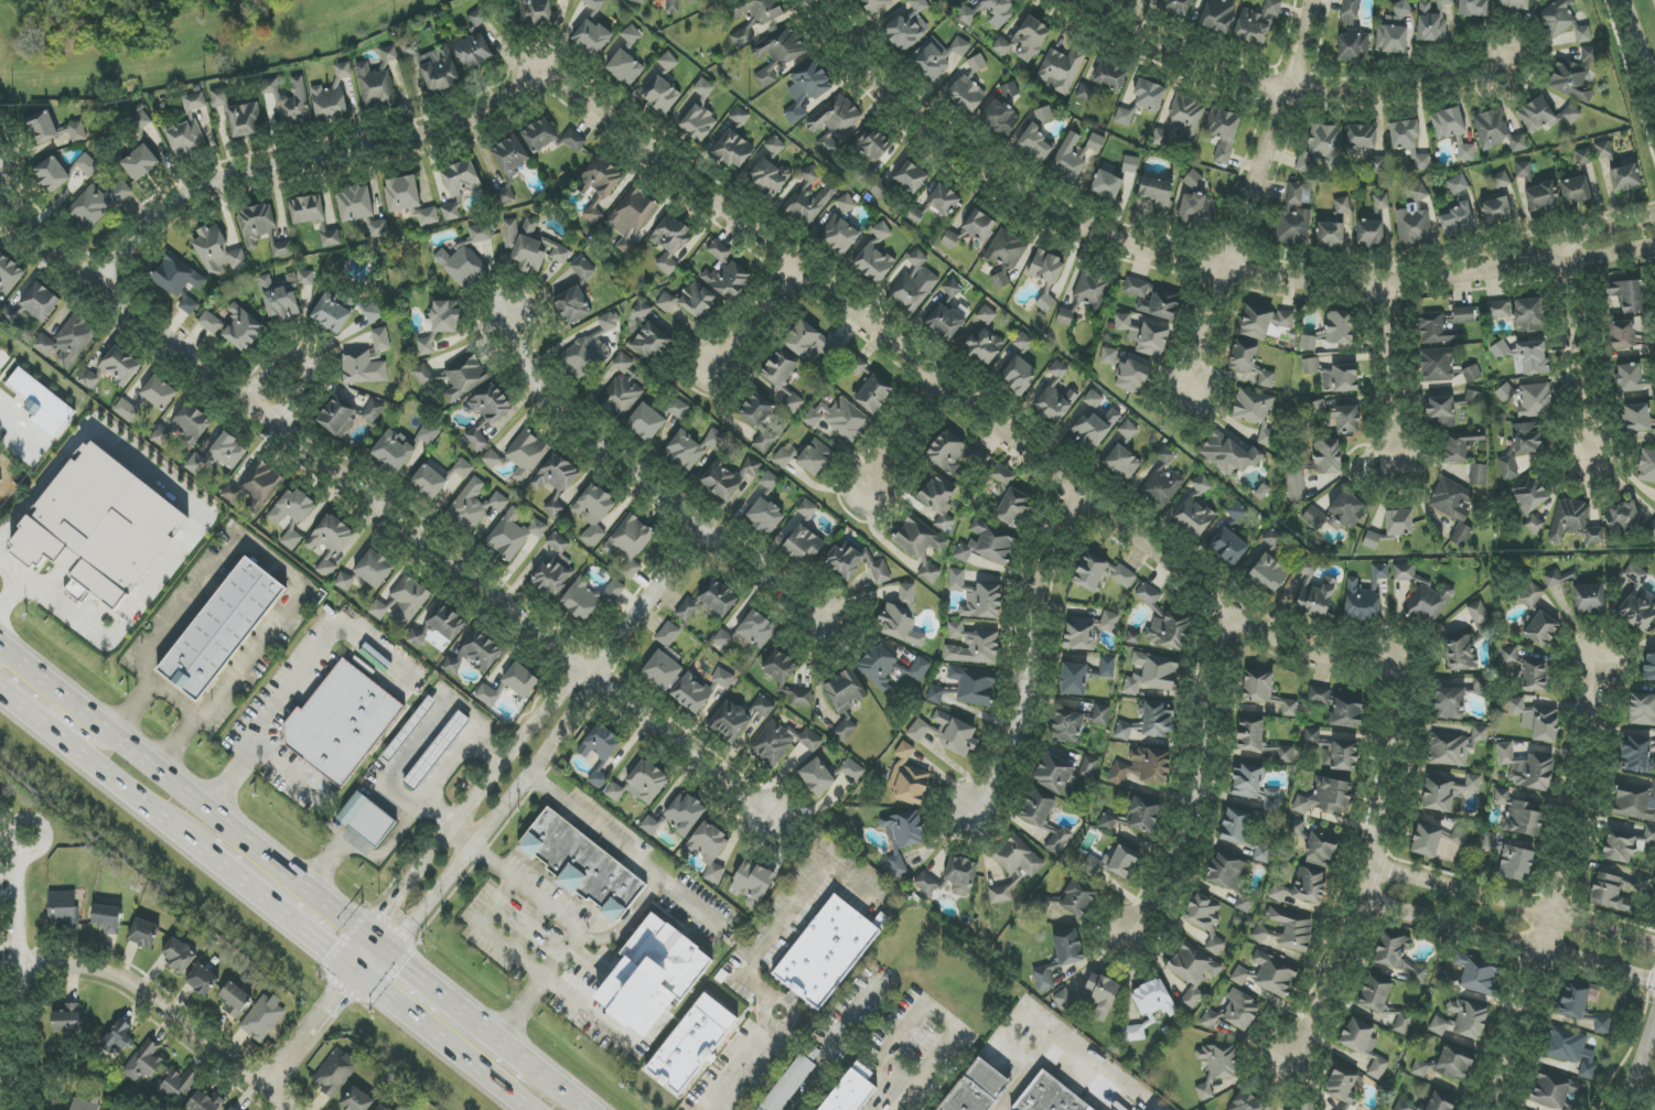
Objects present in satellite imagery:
building: (691, 0)
building: (637, 1)
building: (1444, 2)
building: (1515, 3)
building: (593, 4)
building: (875, 4)
building: (673, 6)
building: (1176, 7)
building: (1473, 8)
building: (761, 9)
building: (536, 12)
building: (1218, 15)
building: (967, 17)
building: (476, 20)
building: (1562, 21)
building: (1257, 23)
building: (1430, 24)
building: (907, 26)
building: (1395, 31)
building: (1353, 33)
building: (632, 35)
building: (742, 35)
road: (1642, 35)
building: (592, 36)
park: (174, 41)
building: (1024, 41)
building: (473, 50)
building: (776, 53)
building: (938, 57)
building: (668, 62)
building: (434, 66)
building: (625, 67)
building: (1060, 69)
building: (1573, 75)
building: (377, 80)
building: (1103, 82)
building: (969, 86)
road: (1280, 87)
building: (703, 88)
building: (806, 89)
building: (1010, 90)
building: (332, 95)
building: (662, 95)
building: (1149, 95)
building: (194, 101)
building: (289, 101)
building: (238, 114)
building: (1545, 115)
building: (739, 116)
building: (1124, 117)
building: (1000, 119)
building: (1182, 120)
building: (140, 121)
building: (832, 122)
building: (1450, 122)
building: (698, 123)
building: (42, 127)
building: (1491, 128)
building: (77, 132)
building: (1223, 132)
building: (539, 134)
road: (1271, 134)
building: (1362, 137)
building: (185, 138)
building: (1036, 138)
building: (573, 140)
building: (1409, 142)
building: (872, 143)
building: (1518, 143)
building: (775, 146)
building: (1322, 149)
building: (734, 150)
building: (1604, 150)
building: (1465, 152)
building: (509, 154)
building: (1074, 154)
building: (1583, 157)
building: (140, 163)
building: (1376, 163)
building: (87, 164)
building: (1130, 164)
building: (1523, 170)
building: (52, 174)
building: (1625, 175)
building: (911, 176)
building: (769, 177)
building: (1193, 180)
building: (1458, 184)
building: (1107, 185)
building: (459, 186)
building: (880, 188)
building: (1576, 191)
building: (1419, 192)
building: (402, 193)
building: (1157, 193)
building: (1541, 196)
building: (809, 198)
building: (943, 200)
building: (1501, 201)
building: (98, 203)
building: (355, 204)
building: (1380, 204)
building: (1342, 206)
building: (1195, 208)
building: (307, 209)
building: (428, 216)
building: (914, 216)
building: (1293, 216)
building: (1459, 217)
building: (631, 218)
building: (979, 225)
building: (1414, 226)
building: (840, 227)
building: (262, 229)
building: (378, 229)
building: (1369, 231)
building: (1331, 235)
building: (329, 236)
building: (950, 239)
building: (670, 243)
building: (530, 247)
building: (1007, 249)
building: (217, 252)
building: (875, 256)
building: (465, 258)
building: (917, 259)
road: (1183, 262)
building: (582, 268)
building: (1046, 268)
building: (9, 273)
building: (726, 273)
building: (176, 277)
building: (307, 278)
building: (1000, 280)
building: (953, 288)
building: (914, 289)
building: (1092, 291)
building: (1629, 295)
building: (1152, 299)
building: (279, 300)
building: (689, 300)
building: (40, 302)
building: (1045, 303)
building: (189, 305)
building: (572, 305)
building: (331, 313)
building: (373, 313)
building: (1519, 313)
building: (1463, 315)
building: (445, 316)
building: (1065, 317)
building: (1264, 321)
building: (209, 322)
building: (945, 322)
road: (751, 323)
building: (1340, 327)
building: (243, 328)
road: (1206, 330)
building: (1438, 330)
building: (647, 335)
building: (1144, 335)
building: (1631, 337)
building: (984, 338)
building: (67, 342)
building: (1022, 342)
building: (814, 343)
building: (1308, 343)
building: (426, 346)
building: (590, 351)
building: (1525, 356)
building: (367, 360)
building: (1250, 363)
building: (857, 365)
building: (1311, 365)
building: (1437, 365)
building: (120, 366)
building: (780, 368)
road: (1568, 368)
building: (1127, 371)
building: (425, 375)
building: (1018, 375)
building: (464, 377)
building: (1630, 377)
building: (1341, 378)
building: (88, 379)
road: (920, 381)
road: (1377, 384)
building: (622, 387)
building: (159, 392)
building: (873, 394)
road: (283, 395)
building: (1056, 396)
building: (1473, 398)
building: (1529, 399)
building: (792, 402)
building: (42, 403)
building: (491, 403)
building: (1253, 407)
building: (677, 408)
building: (125, 409)
building: (756, 410)
building: (1440, 411)
building: (347, 416)
building: (1336, 417)
building: (1637, 418)
building: (813, 419)
building: (847, 420)
building: (646, 422)
building: (1094, 422)
building: (191, 424)
building: (1128, 430)
building: (428, 433)
building: (161, 437)
building: (1267, 437)
building: (476, 440)
road: (899, 440)
building: (764, 441)
building: (1460, 445)
building: (691, 448)
building: (1520, 448)
building: (394, 451)
building: (954, 453)
building: (526, 454)
building: (1229, 454)
building: (218, 455)
building: (1165, 455)
building: (1326, 456)
building: (783, 457)
building: (815, 457)
building: (491, 460)
building: (1121, 463)
building: (1647, 465)
building: (462, 468)
building: (1479, 474)
building: (1001, 475)
building: (728, 477)
building: (0, 481)
building: (556, 481)
building: (769, 481)
building: (429, 482)
building: (0, 483)
building: (255, 484)
building: (1296, 485)
road: (643, 488)
building: (1162, 488)
building: (1529, 494)
road: (376, 499)
building: (939, 500)
building: (475, 504)
road: (198, 506)
building: (1453, 507)
building: (1014, 508)
building: (807, 509)
building: (1195, 509)
building: (1345, 511)
building: (593, 513)
building: (1236, 513)
building: (292, 515)
building: (765, 516)
building: (1313, 517)
building: (1622, 517)
building: (1399, 521)
building: (1575, 522)
building: (1534, 525)
building: (103, 530)
building: (1654, 530)
building: (513, 534)
building: (330, 535)
building: (918, 538)
building: (1272, 538)
building: (1372, 540)
building: (630, 543)
building: (803, 543)
building: (987, 543)
building: (1228, 547)
road: (268, 554)
building: (856, 564)
building: (326, 568)
building: (555, 568)
road: (13, 569)
building: (374, 569)
building: (1090, 572)
building: (1404, 572)
building: (929, 573)
building: (1268, 574)
building: (1124, 576)
building: (1560, 579)
building: (956, 580)
building: (345, 581)
building: (1315, 593)
building: (1365, 595)
building: (1532, 595)
road: (13, 596)
building: (589, 597)
building: (718, 597)
building: (1589, 599)
building: (402, 602)
building: (984, 602)
building: (1428, 603)
road: (646, 606)
building: (688, 610)
building: (901, 617)
building: (447, 622)
building: (1109, 622)
building: (1164, 623)
building: (1540, 627)
building: (222, 629)
building: (756, 629)
building: (668, 634)
building: (1081, 634)
building: (417, 635)
building: (1133, 637)
building: (722, 639)
building: (1465, 642)
building: (972, 646)
building: (475, 654)
road: (1027, 658)
building: (1107, 666)
building: (781, 667)
building: (879, 667)
building: (1648, 667)
building: (920, 669)
building: (662, 670)
building: (1152, 673)
building: (1535, 677)
building: (723, 678)
building: (1074, 679)
building: (520, 680)
building: (974, 685)
building: (1480, 686)
building: (1265, 691)
building: (691, 692)
building: (935, 694)
building: (487, 696)
building: (800, 698)
road: (176, 699)
road: (14, 701)
building: (845, 701)
building: (1450, 703)
building: (764, 705)
building: (1340, 705)
building: (1642, 709)
building: (1100, 714)
road: (266, 719)
building: (1535, 719)
building: (1157, 720)
building: (730, 721)
building: (340, 724)
building: (1067, 725)
building: (917, 730)
road: (72, 731)
building: (1125, 731)
building: (955, 734)
building: (810, 741)
building: (1259, 741)
building: (600, 743)
building: (773, 743)
building: (1454, 746)
road: (410, 751)
building: (437, 751)
building: (1333, 751)
building: (1636, 754)
building: (1088, 767)
building: (1143, 767)
building: (1526, 768)
building: (851, 770)
building: (1055, 772)
building: (817, 777)
building: (909, 779)
building: (598, 780)
road: (117, 783)
building: (641, 784)
road: (1197, 786)
building: (1255, 786)
building: (1448, 790)
road: (183, 791)
building: (0, 794)
building: (1324, 797)
road: (474, 800)
building: (1634, 800)
road: (423, 805)
building: (1038, 807)
building: (684, 813)
building: (1143, 813)
building: (1519, 815)
road: (494, 816)
building: (366, 819)
building: (649, 826)
building: (1236, 826)
road: (594, 827)
road: (464, 833)
building: (1461, 834)
building: (1058, 840)
building: (1426, 841)
building: (1626, 841)
building: (1321, 849)
building: (709, 850)
building: (1261, 853)
building: (1018, 858)
building: (1113, 862)
building: (1515, 863)
road: (493, 865)
building: (582, 866)
building: (1226, 871)
building: (960, 875)
road: (1559, 882)
building: (752, 883)
building: (926, 883)
building: (1302, 887)
building: (1618, 891)
building: (1000, 894)
building: (1077, 898)
road: (1514, 902)
road: (499, 903)
building: (1245, 903)
road: (688, 904)
building: (62, 907)
road: (368, 910)
road: (280, 912)
building: (107, 918)
road: (628, 923)
building: (1287, 930)
building: (143, 934)
traffic signals: (367, 937)
road: (1507, 944)
road: (377, 945)
building: (1393, 948)
traffic signals: (388, 953)
building: (828, 953)
building: (179, 955)
road: (362, 955)
building: (1060, 958)
building: (665, 960)
road: (751, 961)
road: (372, 962)
road: (558, 964)
road: (32, 969)
building: (1192, 971)
traffic signals: (356, 972)
building: (1477, 973)
building: (1274, 974)
building: (1419, 974)
building: (1239, 976)
building: (202, 979)
road: (1649, 990)
building: (1375, 993)
building: (235, 999)
building: (1153, 999)
building: (1573, 1000)
road: (926, 1002)
road: (460, 1010)
road: (172, 1013)
building: (1234, 1013)
building: (262, 1017)
building: (66, 1019)
building: (1469, 1019)
building: (1403, 1024)
building: (1438, 1025)
building: (1602, 1025)
road: (311, 1030)
road: (617, 1034)
building: (118, 1039)
road: (442, 1041)
road: (831, 1044)
building: (691, 1045)
building: (1364, 1046)
road: (1070, 1049)
building: (1571, 1050)
building: (143, 1063)
building: (1447, 1064)
building: (1216, 1066)
building: (335, 1073)
road: (1643, 1074)
building: (792, 1082)
building: (176, 1084)
building: (1342, 1087)
road: (559, 1089)
building: (978, 1089)
building: (855, 1090)
building: (1555, 1091)
road: (905, 1096)
building: (1050, 1096)
building: (357, 1100)
building: (1441, 1101)
building: (205, 1102)
building: (1246, 1102)
building: (85, 1103)
building: (1404, 1107)
building: (232, 1108)
building: (381, 1108)
building: (1304, 1108)

